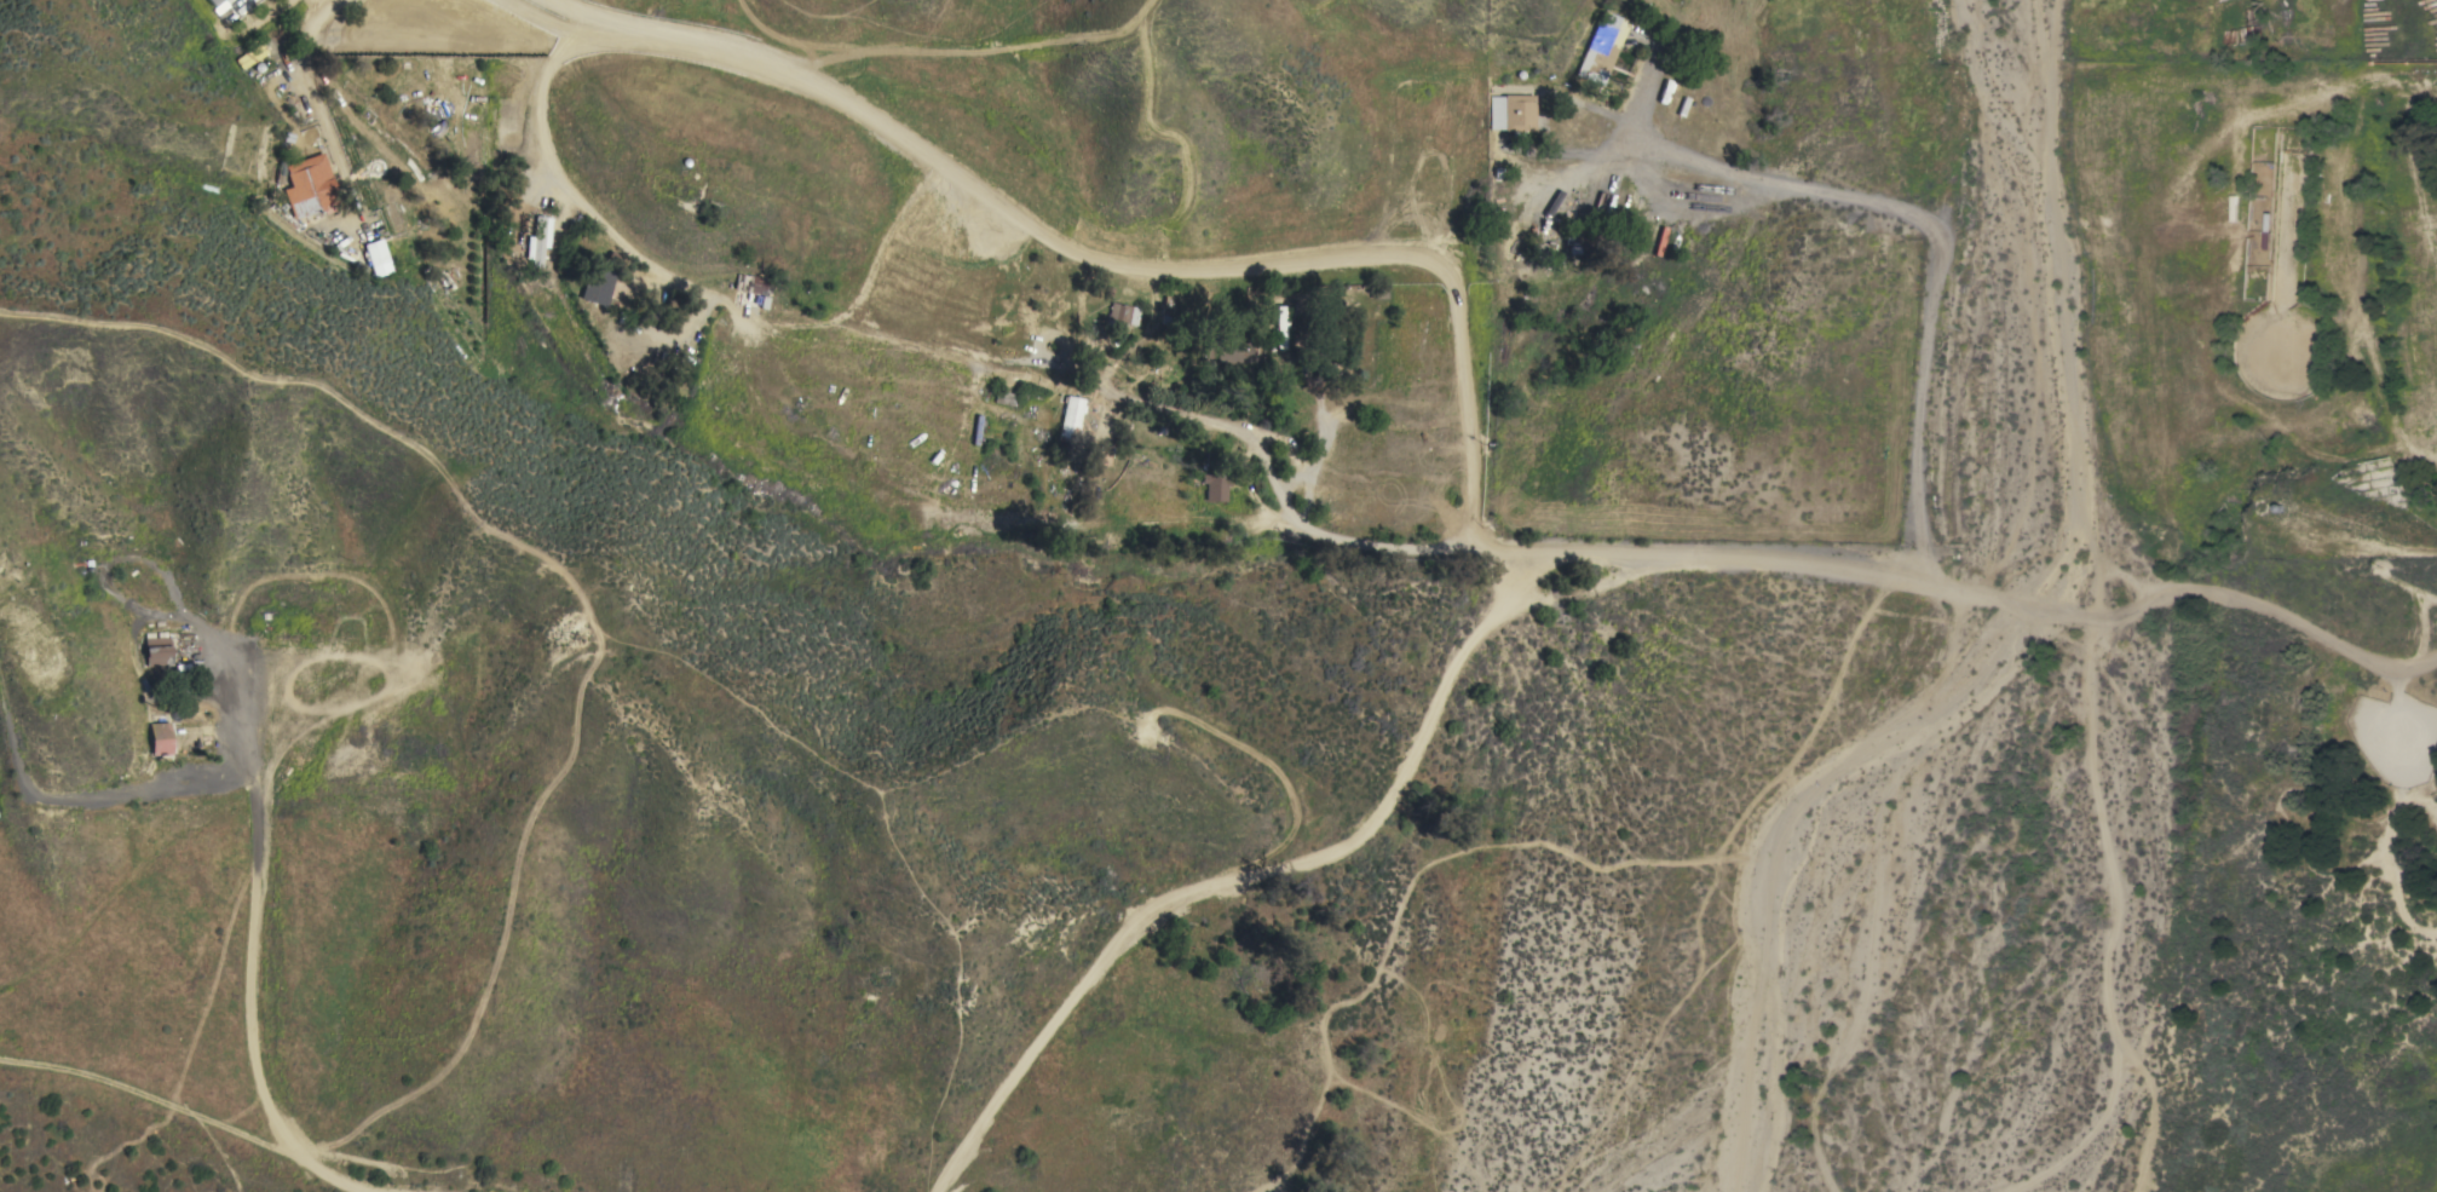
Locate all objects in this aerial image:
road: (558, 8)
road: (358, 34)
building: (1603, 48)
building: (1513, 113)
road: (1943, 113)
building: (295, 154)
building: (310, 189)
road: (1925, 221)
building: (538, 240)
building: (369, 247)
building: (374, 255)
road: (1099, 269)
building: (759, 284)
building: (601, 286)
road: (738, 311)
building: (1124, 313)
building: (1281, 328)
building: (1232, 351)
building: (1004, 397)
building: (1071, 420)
building: (1215, 486)
road: (1755, 558)
building: (159, 649)
building: (161, 738)
road: (1243, 879)
road: (1736, 881)
road: (2112, 909)
road: (1364, 985)
road: (257, 1002)
road: (160, 1104)
road: (2090, 1138)

